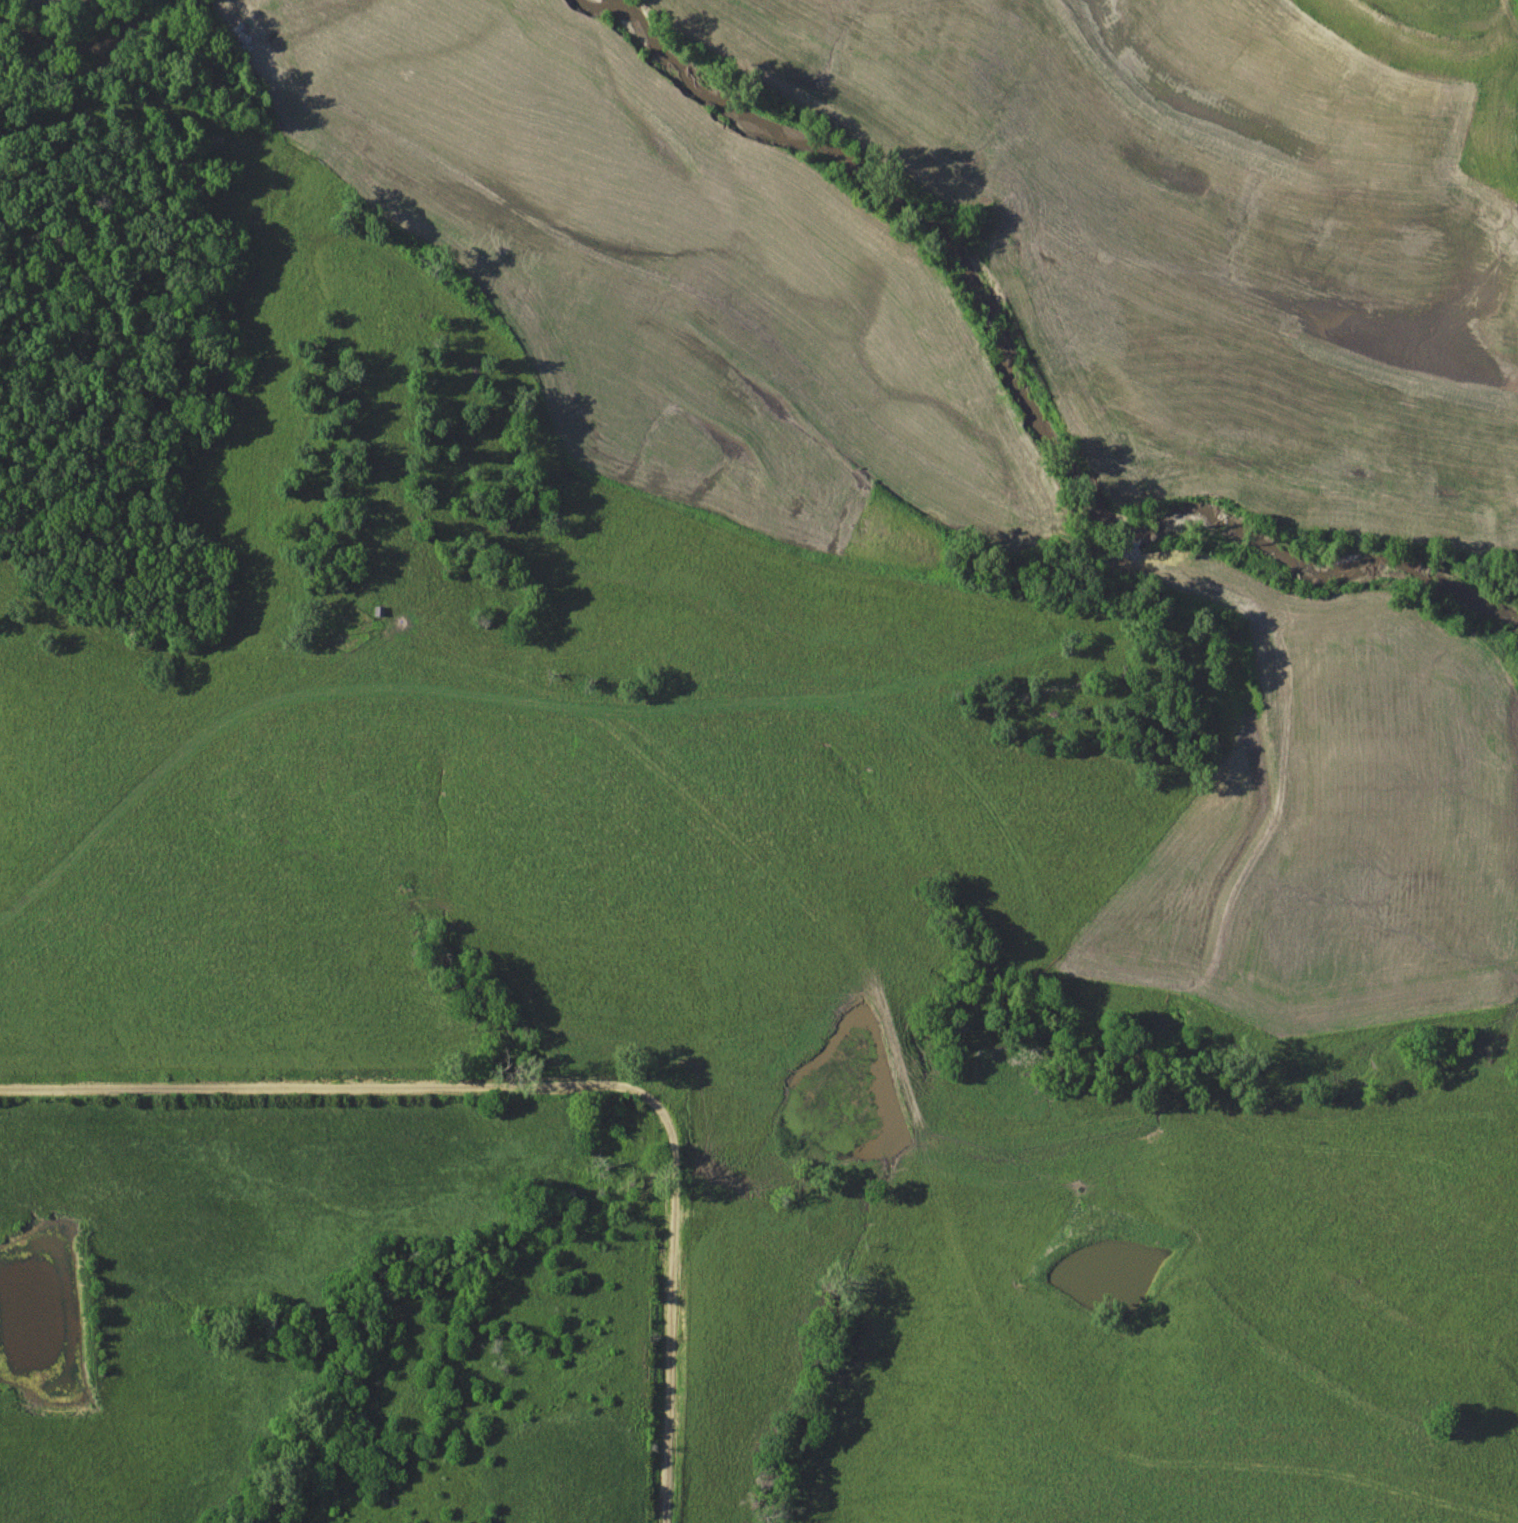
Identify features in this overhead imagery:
road: (543, 1085)

